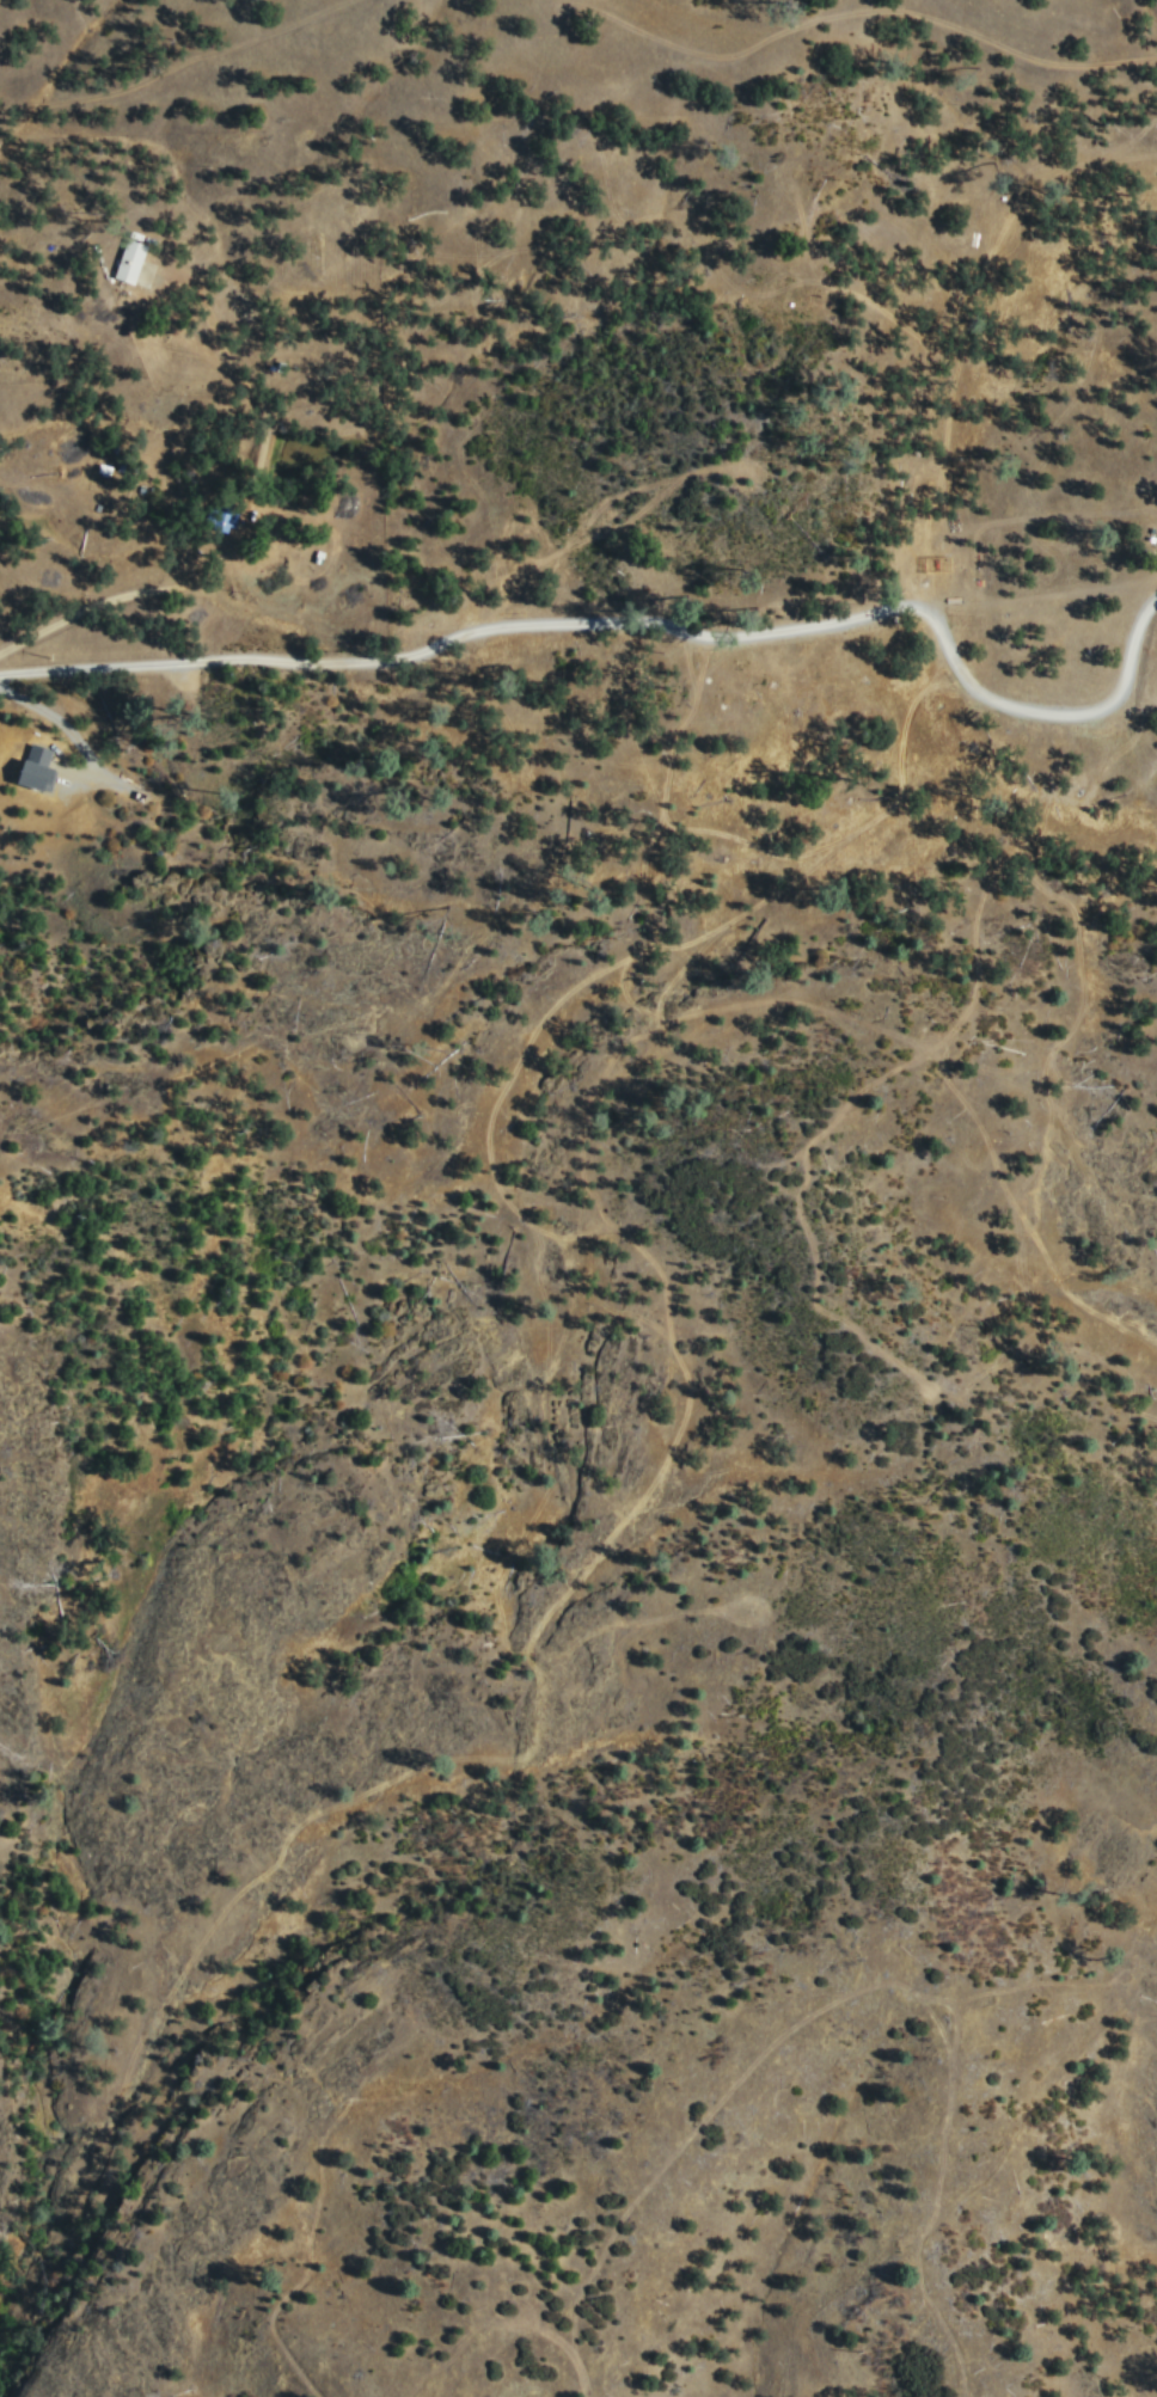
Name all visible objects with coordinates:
road: (853, 12)
road: (172, 63)
building: (131, 259)
road: (643, 623)

